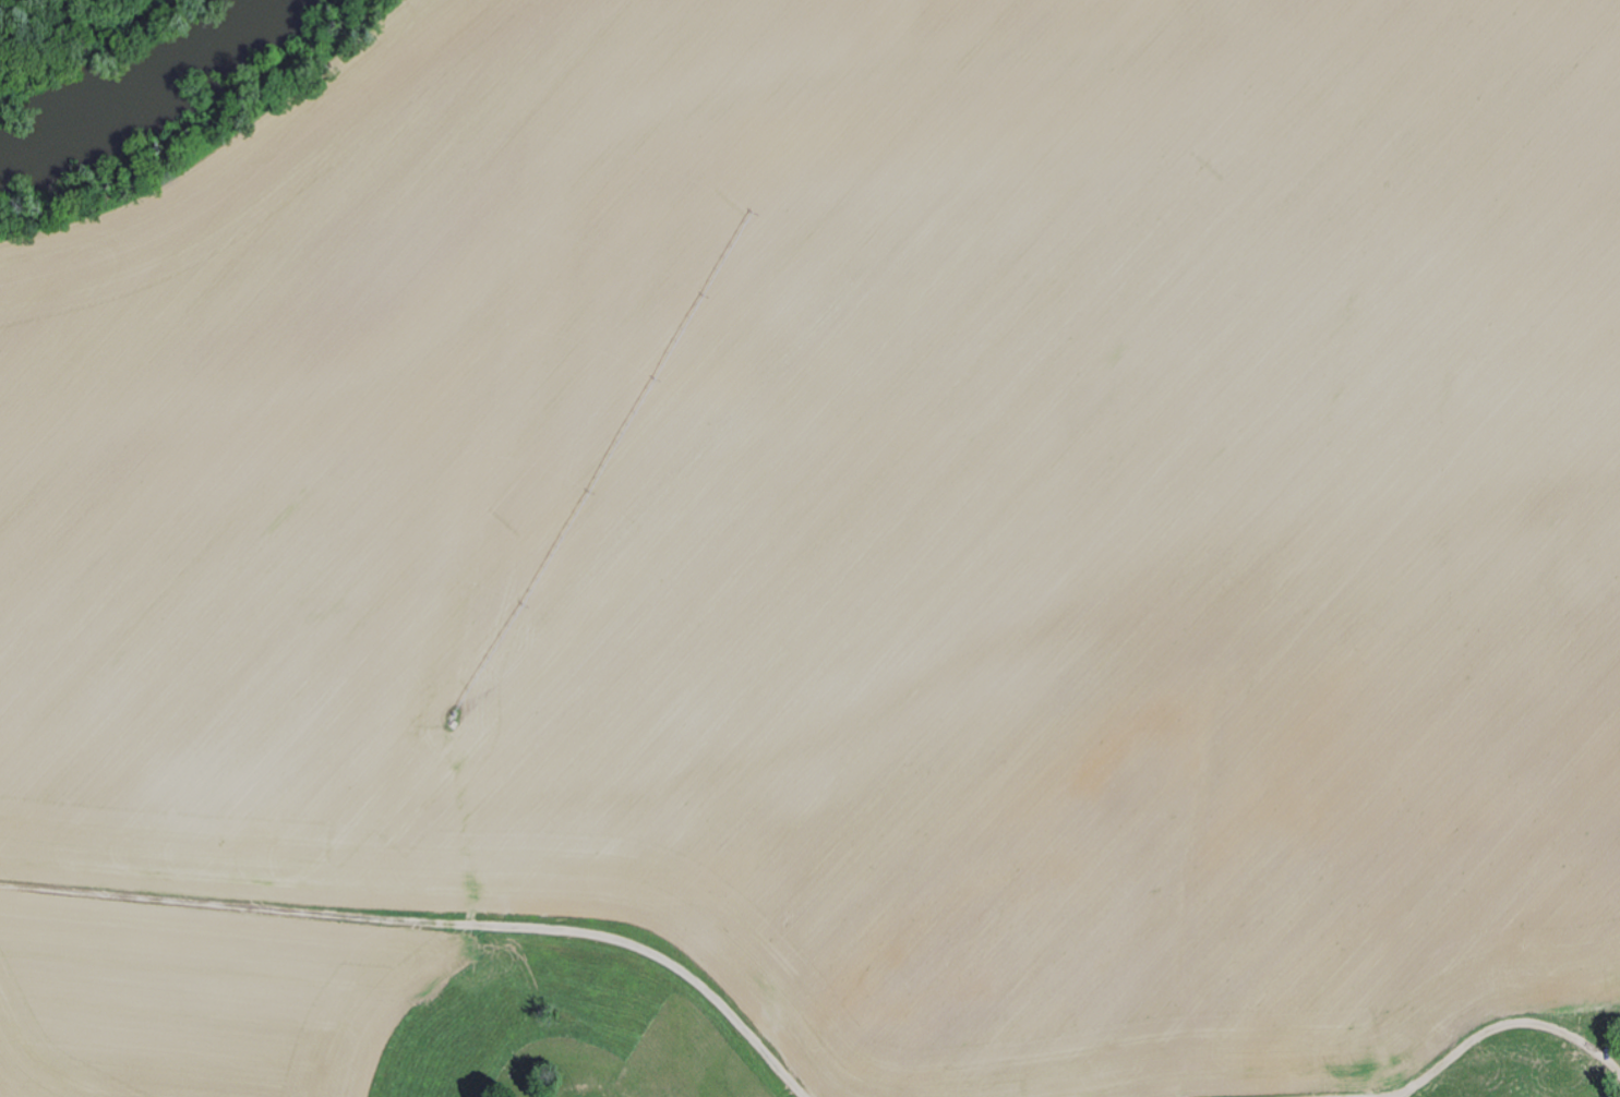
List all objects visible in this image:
road: (434, 917)
road: (1504, 1023)

